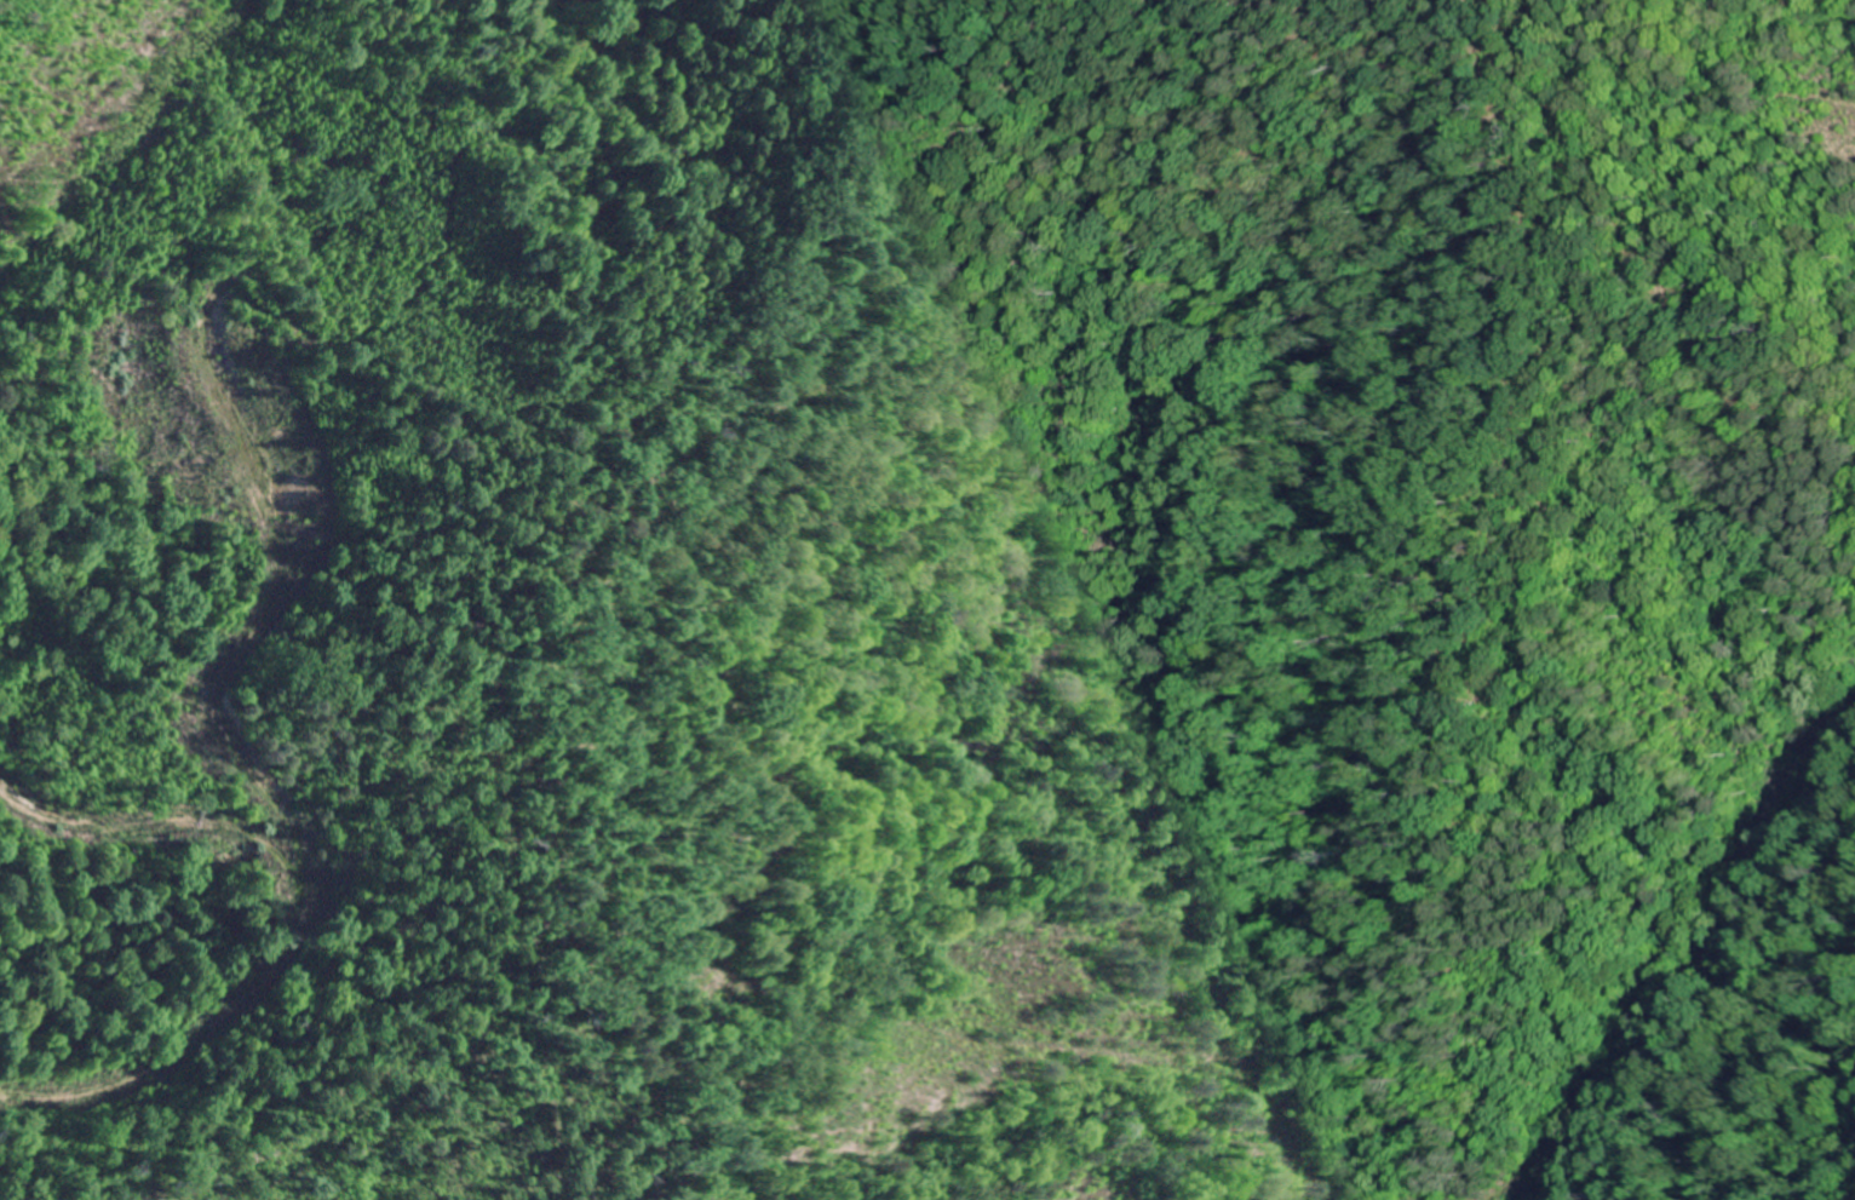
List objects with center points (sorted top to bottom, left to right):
road: (1790, 596)

